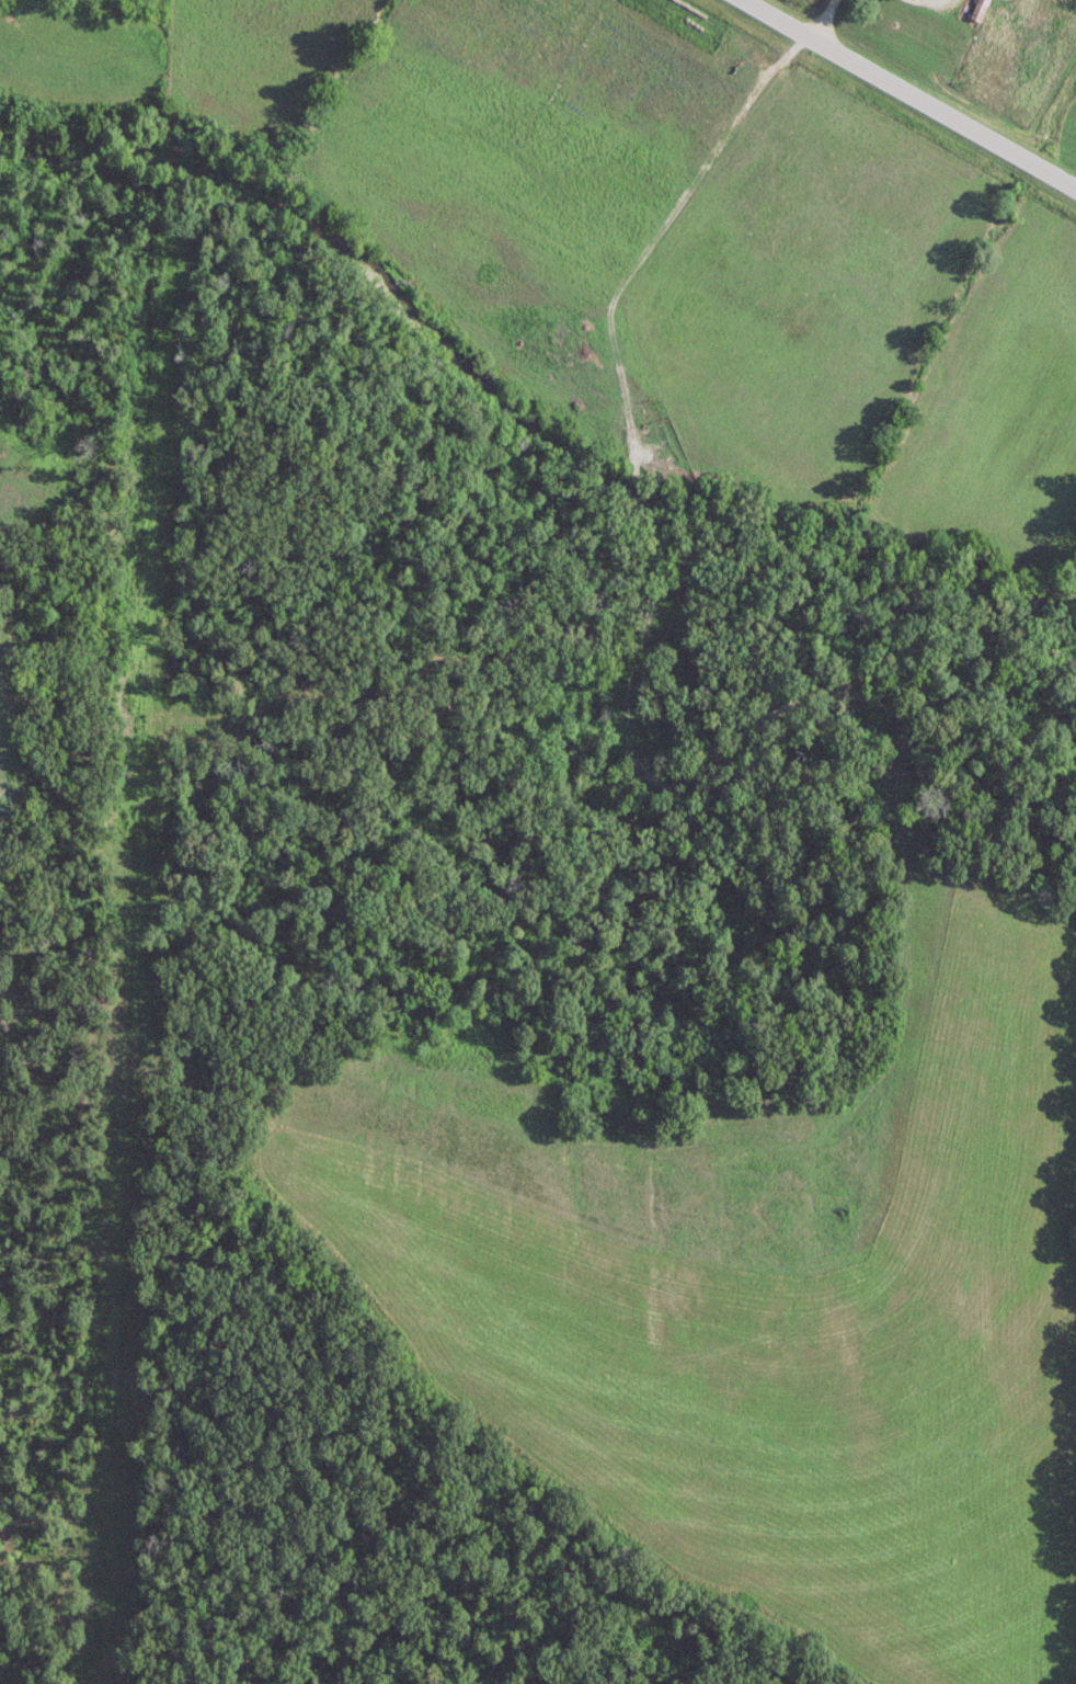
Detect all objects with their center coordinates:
building: (981, 10)
road: (912, 94)

